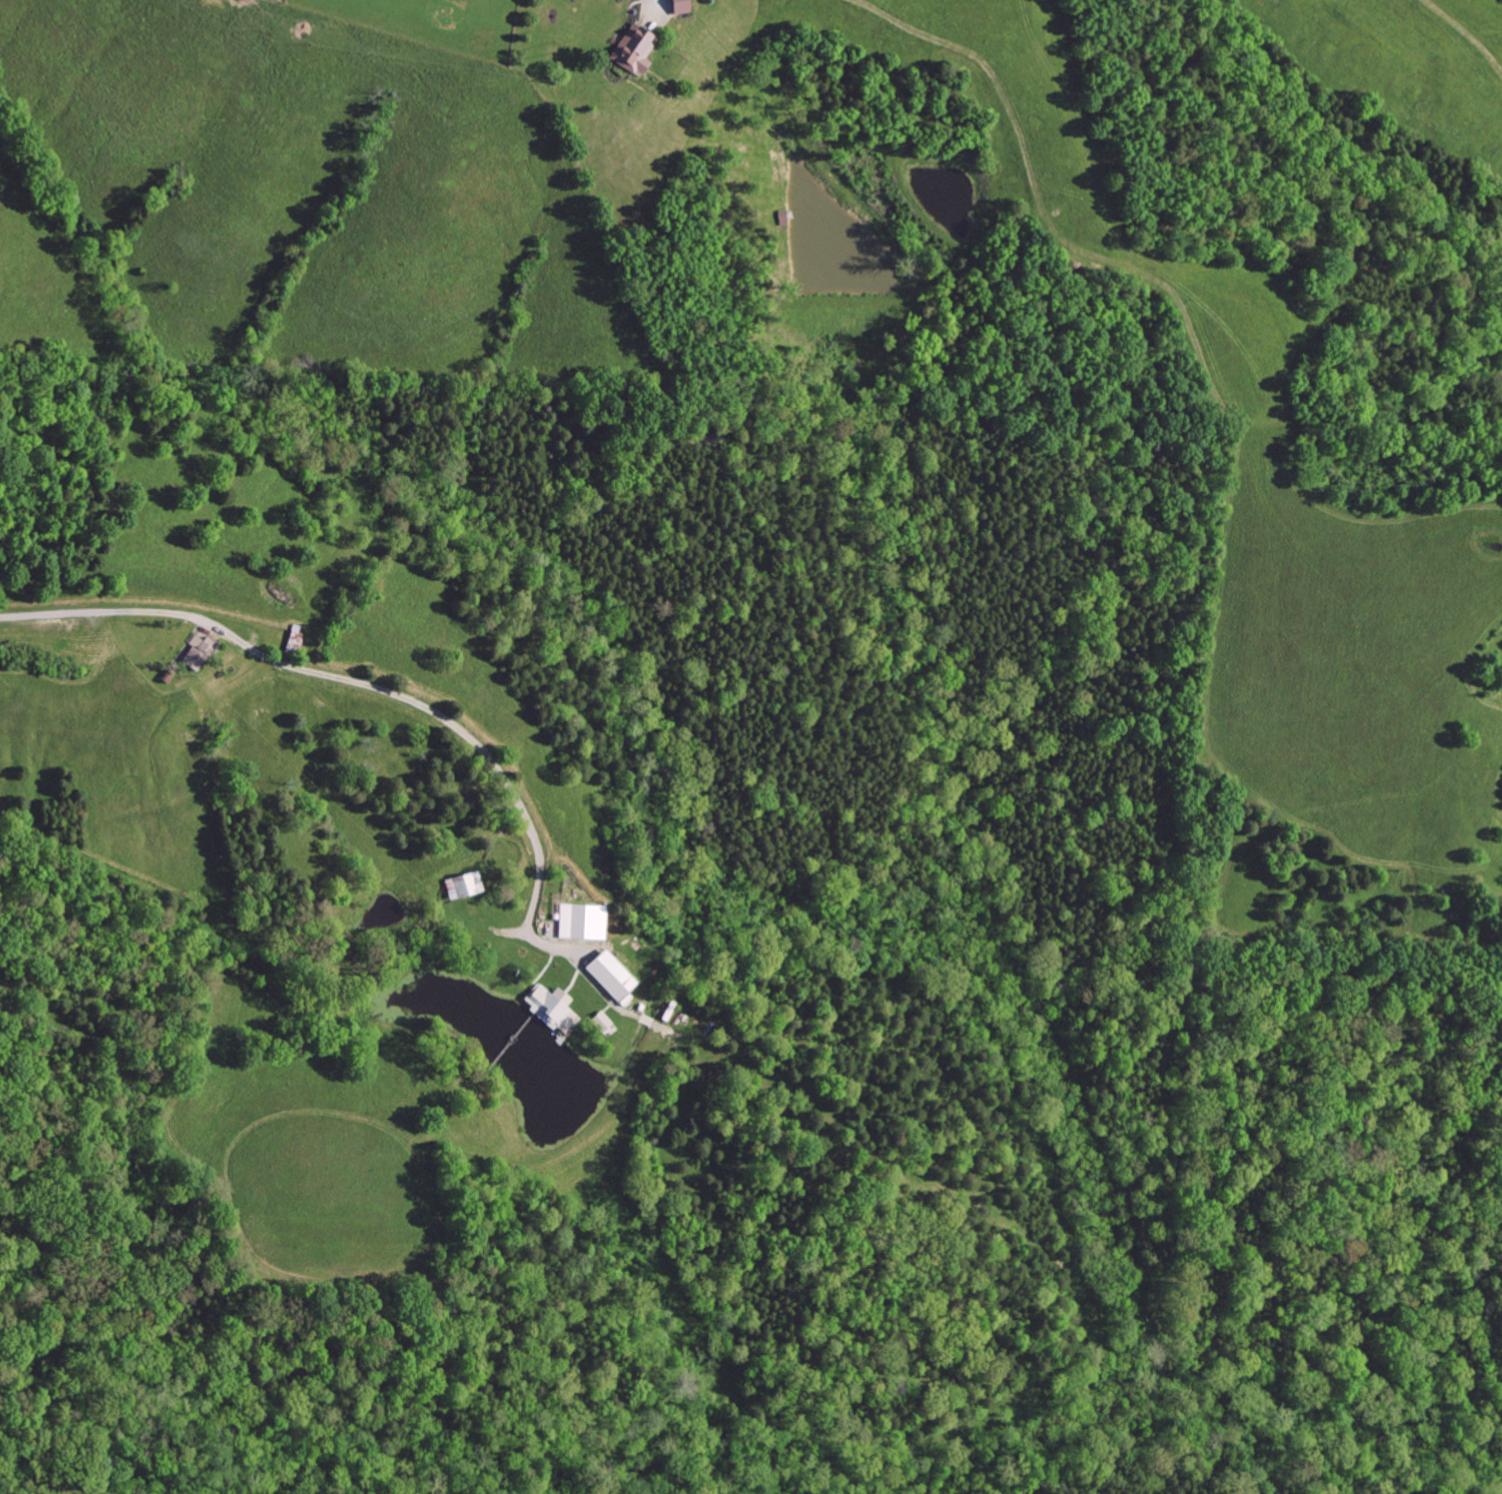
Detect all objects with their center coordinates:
building: (243, 0)
road: (656, 5)
building: (678, 7)
building: (632, 50)
road: (105, 612)
building: (196, 652)
road: (445, 714)
building: (582, 922)
building: (609, 975)
building: (551, 1007)
building: (600, 1021)

